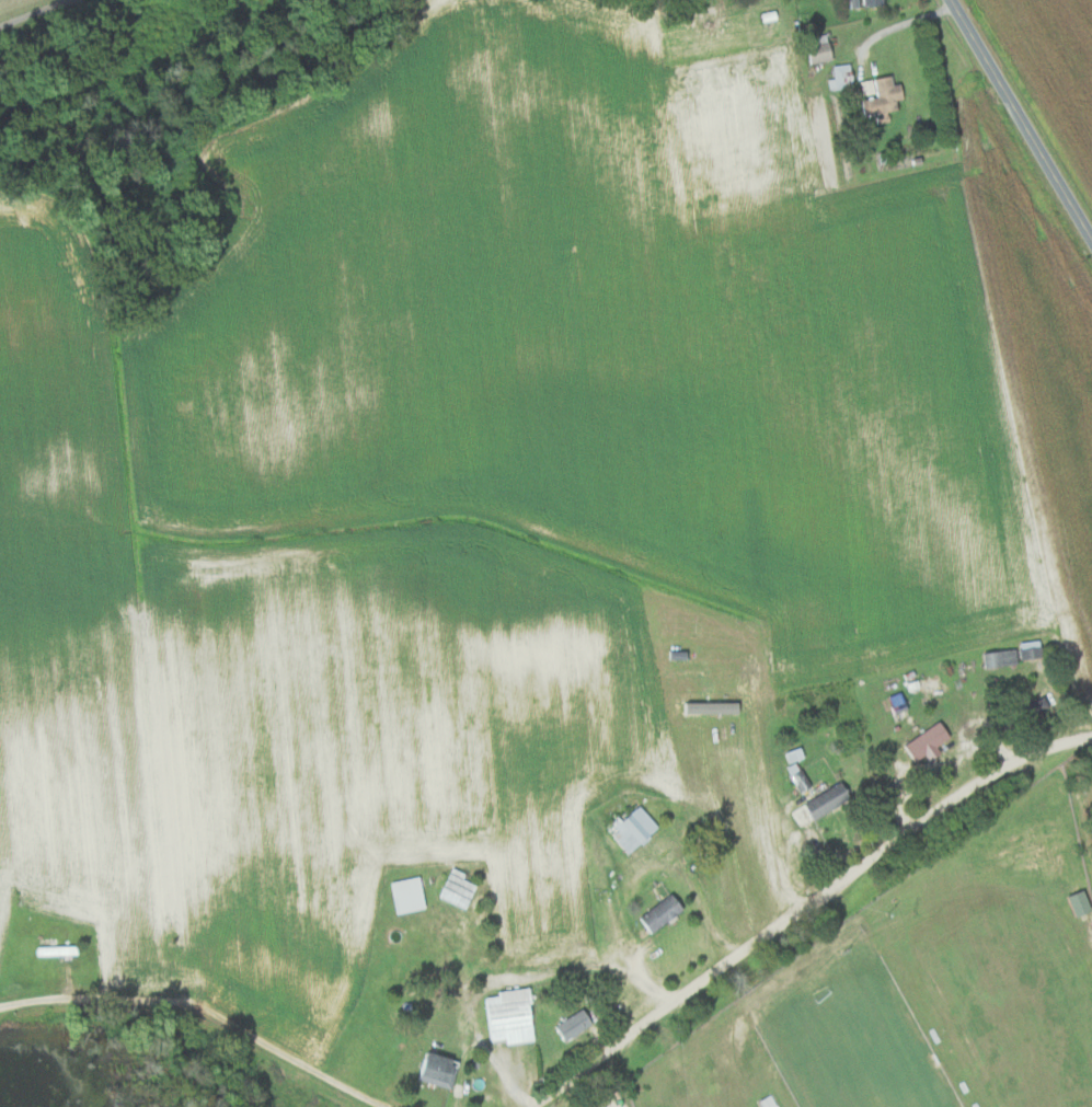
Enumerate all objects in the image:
building: (875, 2)
building: (858, 3)
road: (43, 13)
building: (823, 50)
building: (843, 76)
building: (884, 93)
road: (1019, 120)
building: (1003, 657)
building: (931, 741)
building: (831, 799)
building: (636, 828)
building: (411, 893)
building: (1083, 901)
road: (807, 908)
building: (666, 912)
road: (515, 979)
building: (514, 1015)
road: (209, 1018)
building: (578, 1023)
stadium: (858, 1033)
park: (855, 1047)
building: (441, 1070)
building: (771, 1100)

